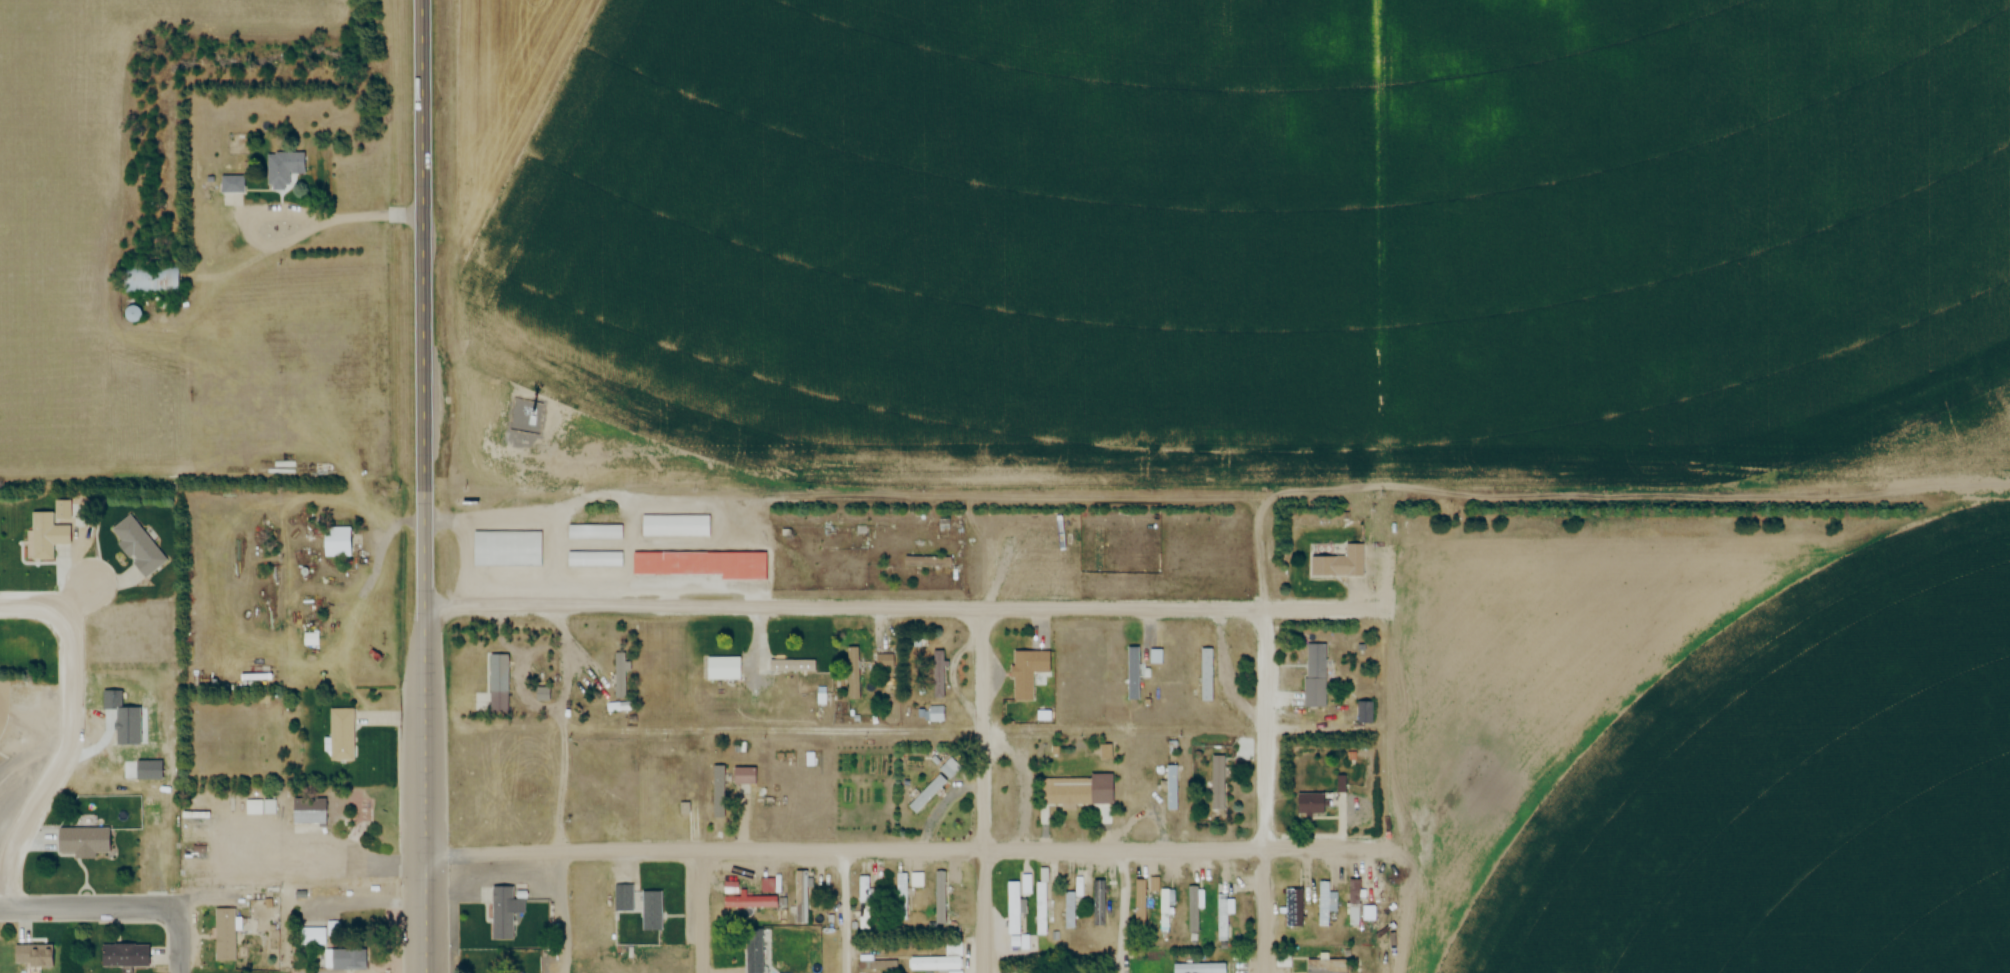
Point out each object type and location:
building: (277, 171)
building: (227, 185)
road: (336, 214)
road: (427, 240)
building: (150, 280)
building: (130, 314)
building: (675, 526)
building: (595, 533)
building: (46, 534)
building: (336, 542)
building: (137, 547)
building: (506, 549)
building: (594, 560)
building: (927, 562)
building: (1338, 564)
building: (699, 565)
road: (39, 608)
road: (904, 609)
building: (883, 662)
building: (790, 666)
building: (723, 669)
building: (1206, 672)
building: (853, 673)
building: (938, 674)
building: (1314, 675)
building: (619, 676)
building: (497, 684)
building: (619, 707)
building: (1365, 713)
road: (425, 726)
building: (340, 735)
road: (67, 748)
building: (743, 775)
building: (1217, 783)
building: (1172, 787)
road: (986, 790)
road: (1262, 790)
building: (718, 791)
building: (926, 794)
building: (1070, 794)
building: (615, 803)
building: (1310, 804)
building: (307, 811)
building: (82, 841)
road: (909, 851)
building: (1113, 889)
building: (802, 897)
building: (901, 897)
building: (621, 898)
building: (939, 898)
building: (749, 902)
building: (1355, 902)
building: (865, 903)
building: (1098, 903)
building: (1139, 903)
building: (1326, 903)
building: (1042, 904)
building: (1014, 906)
road: (95, 908)
building: (1293, 908)
building: (1070, 910)
building: (1165, 910)
building: (1195, 910)
building: (649, 911)
road: (704, 912)
road: (845, 912)
road: (1124, 912)
road: (564, 913)
building: (500, 914)
building: (1223, 917)
building: (224, 935)
building: (312, 937)
road: (183, 944)
building: (899, 950)
building: (753, 954)
building: (33, 955)
building: (123, 955)
building: (342, 959)
building: (1283, 961)
building: (935, 964)
building: (1326, 966)
building: (1199, 968)

